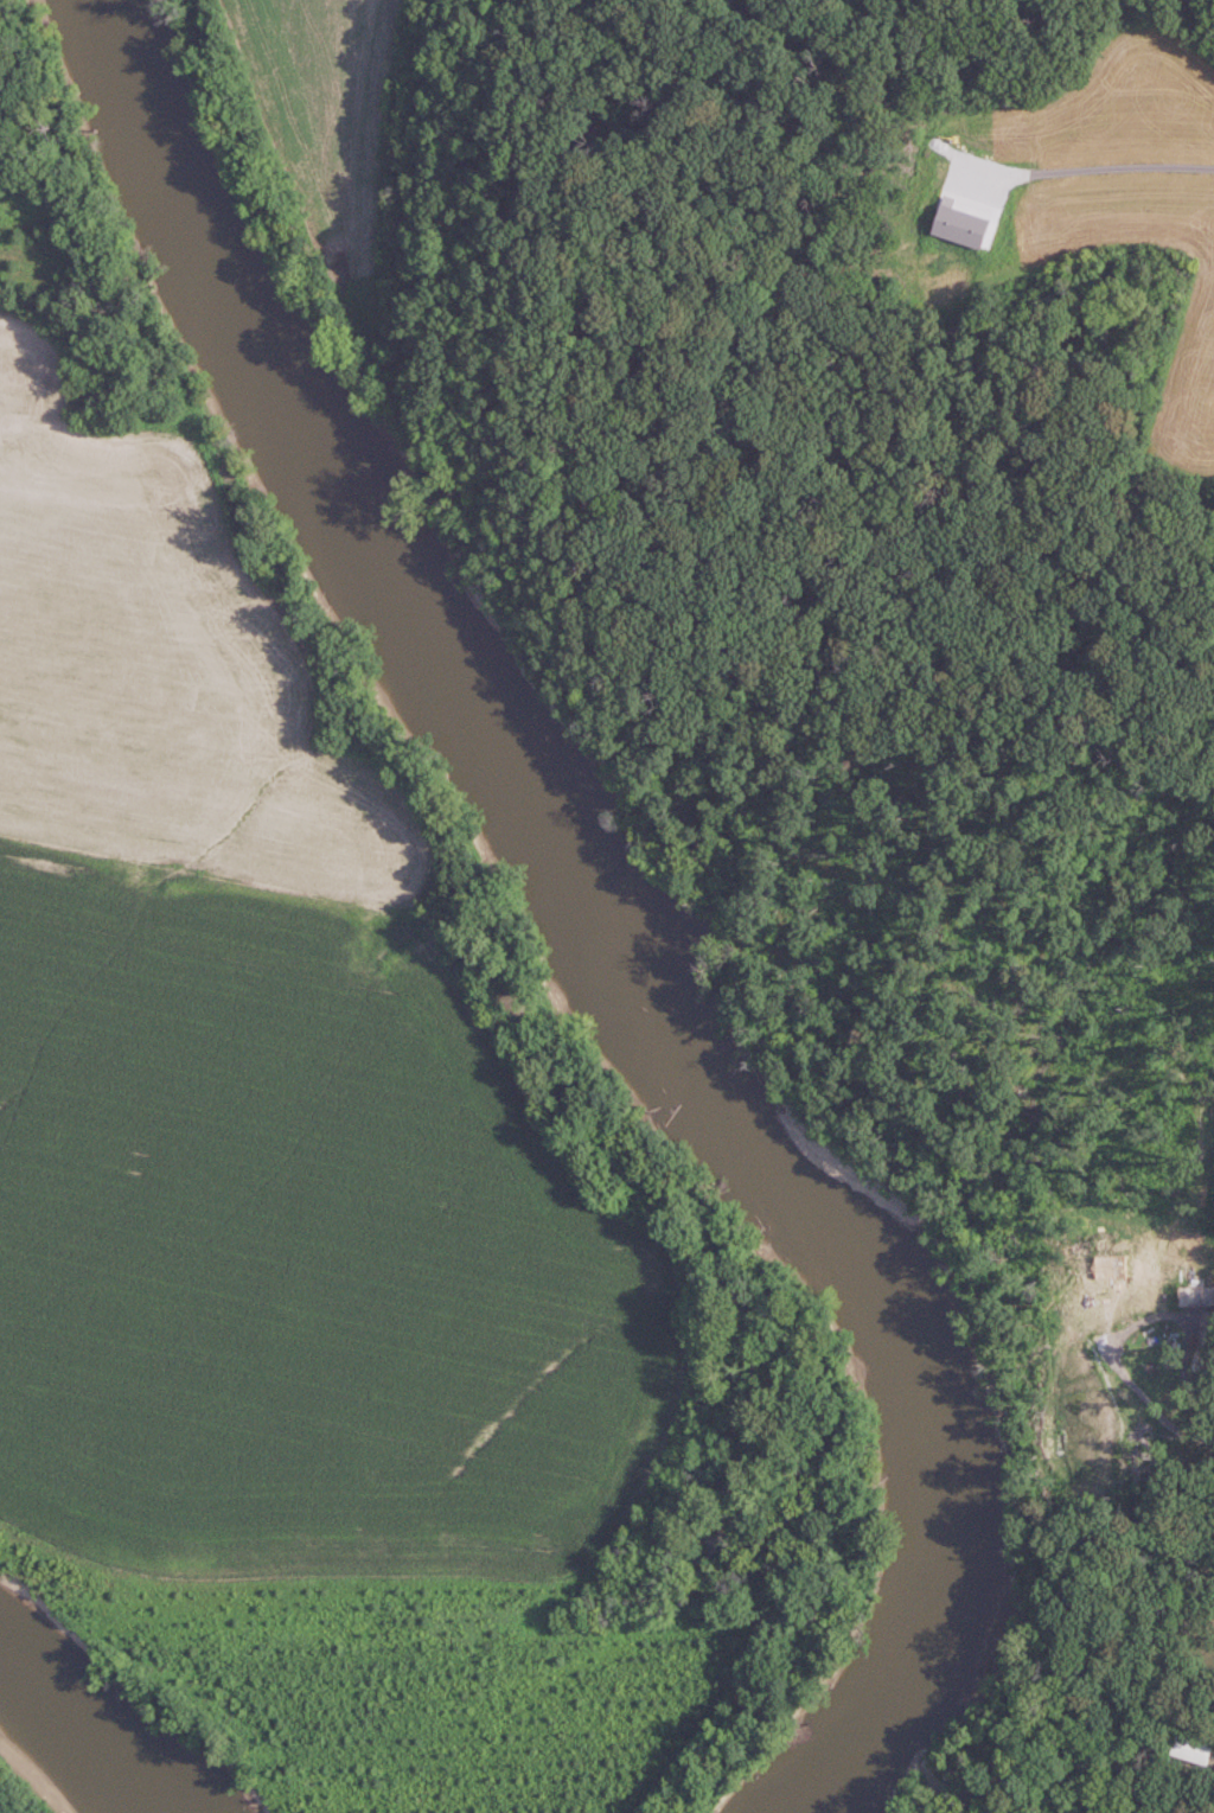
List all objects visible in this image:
road: (1105, 161)
river: (599, 914)
building: (1199, 1290)
road: (1131, 1326)
building: (1205, 1345)
building: (1193, 1750)
river: (68, 1754)

